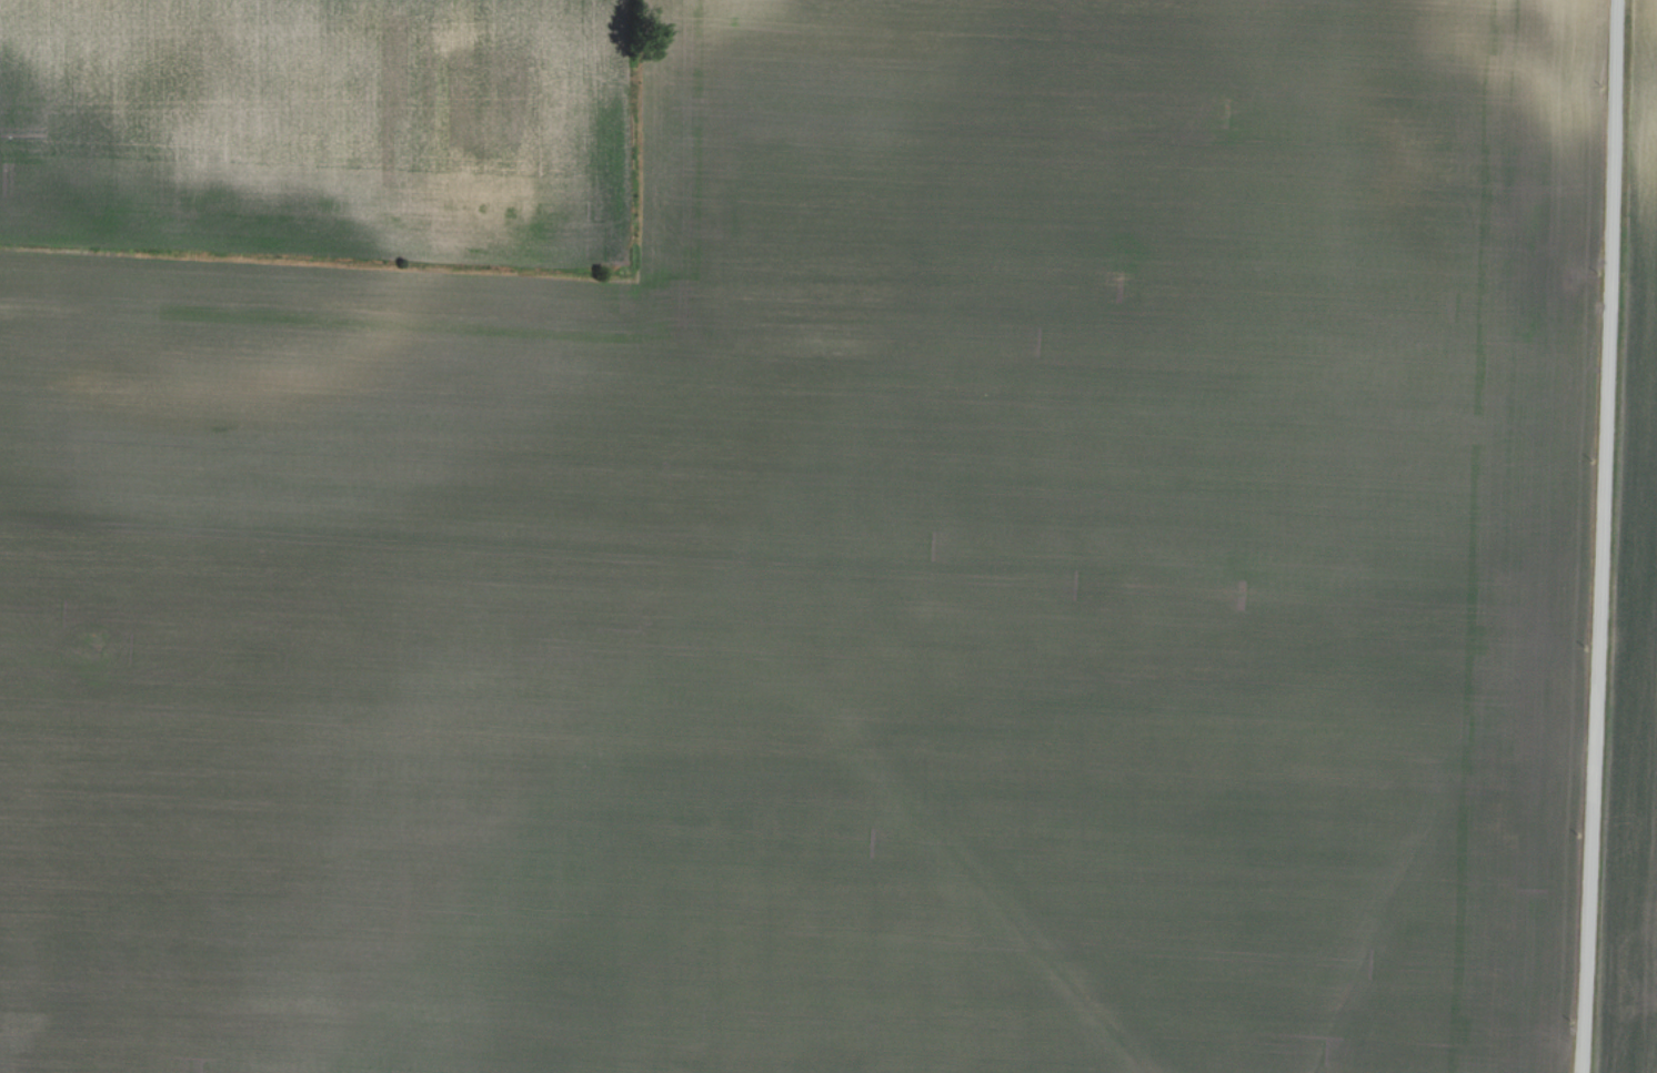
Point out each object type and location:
road: (1596, 536)

